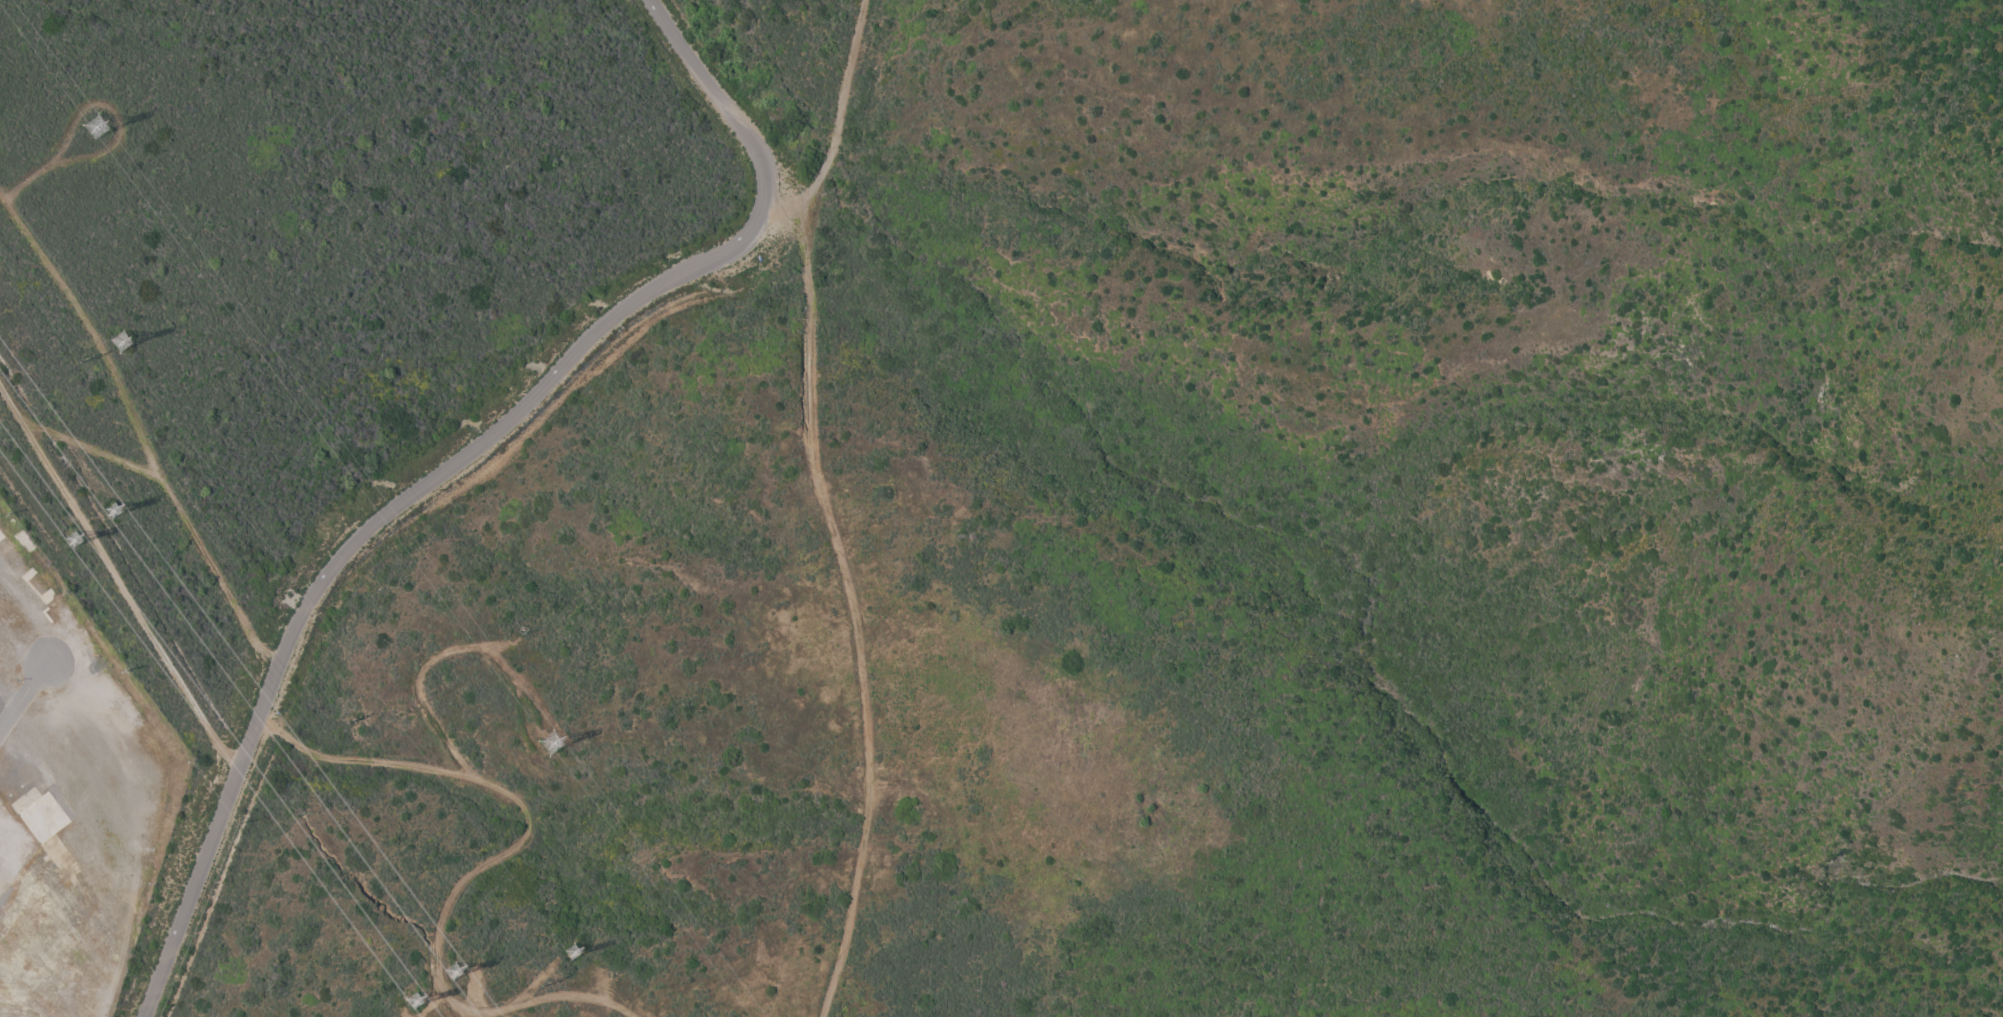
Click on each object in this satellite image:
power tower: (99, 135)
power tower: (125, 351)
road: (571, 355)
power tower: (84, 360)
power tower: (115, 518)
power tower: (71, 548)
road: (123, 585)
road: (853, 598)
road: (439, 654)
road: (26, 701)
power tower: (347, 721)
power tower: (551, 756)
road: (370, 760)
power tower: (577, 959)
power tower: (459, 980)
road: (529, 981)
power tower: (542, 986)
road: (556, 994)
power tower: (417, 1011)

